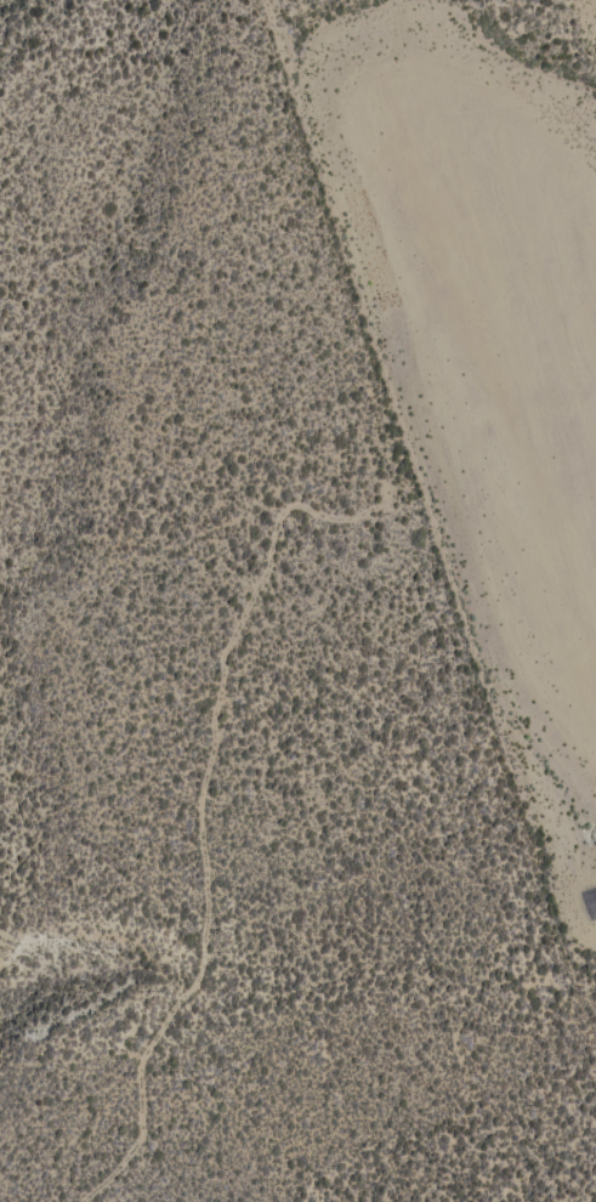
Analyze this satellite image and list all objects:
airport taxiway: (592, 901)

